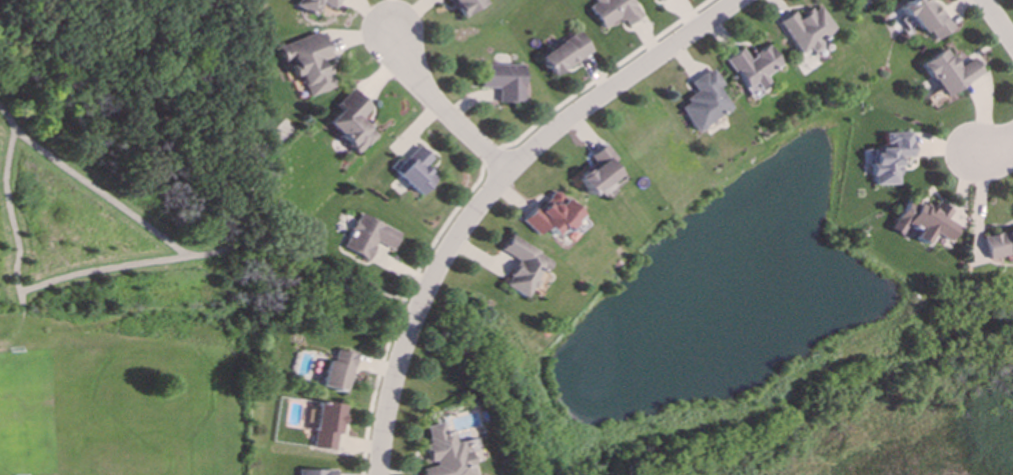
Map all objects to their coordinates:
building: (659, 0)
building: (313, 5)
building: (464, 6)
building: (613, 12)
building: (926, 17)
road: (998, 21)
building: (807, 29)
building: (564, 54)
building: (309, 62)
building: (753, 68)
building: (951, 72)
building: (504, 81)
road: (618, 83)
building: (704, 101)
road: (437, 103)
building: (353, 121)
road: (995, 155)
road: (492, 156)
building: (891, 158)
building: (417, 171)
building: (598, 171)
building: (550, 215)
building: (925, 221)
road: (12, 223)
road: (441, 230)
building: (369, 236)
building: (998, 244)
road: (179, 250)
building: (522, 266)
road: (102, 269)
road: (423, 313)
building: (337, 371)
road: (374, 386)
building: (325, 426)
building: (442, 453)
building: (314, 472)

